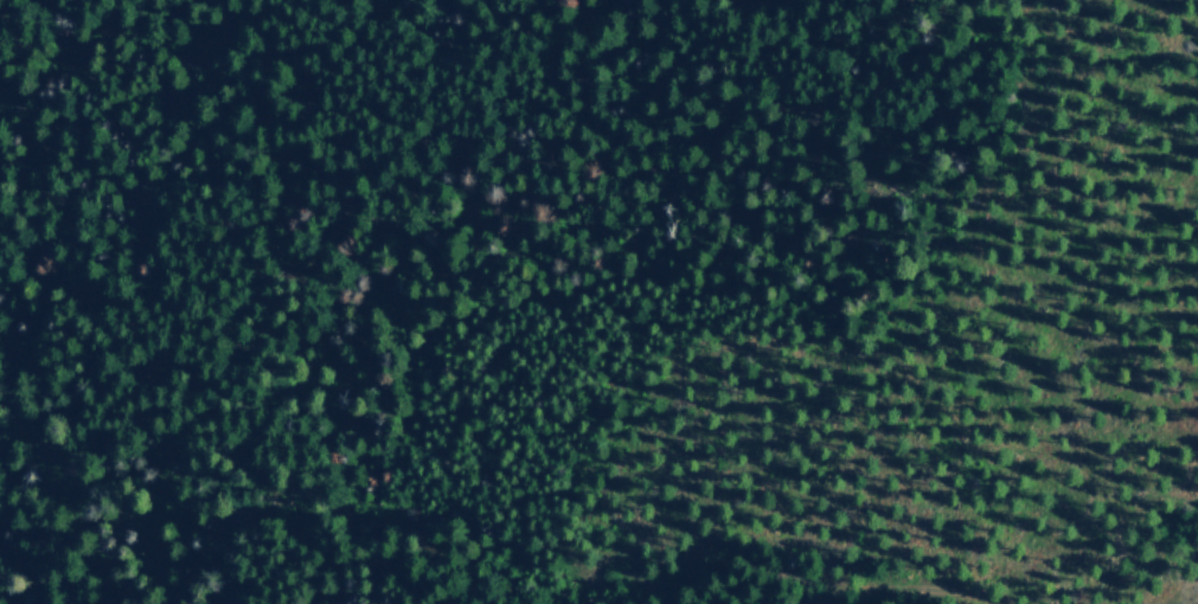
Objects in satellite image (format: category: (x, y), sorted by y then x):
road: (899, 591)

